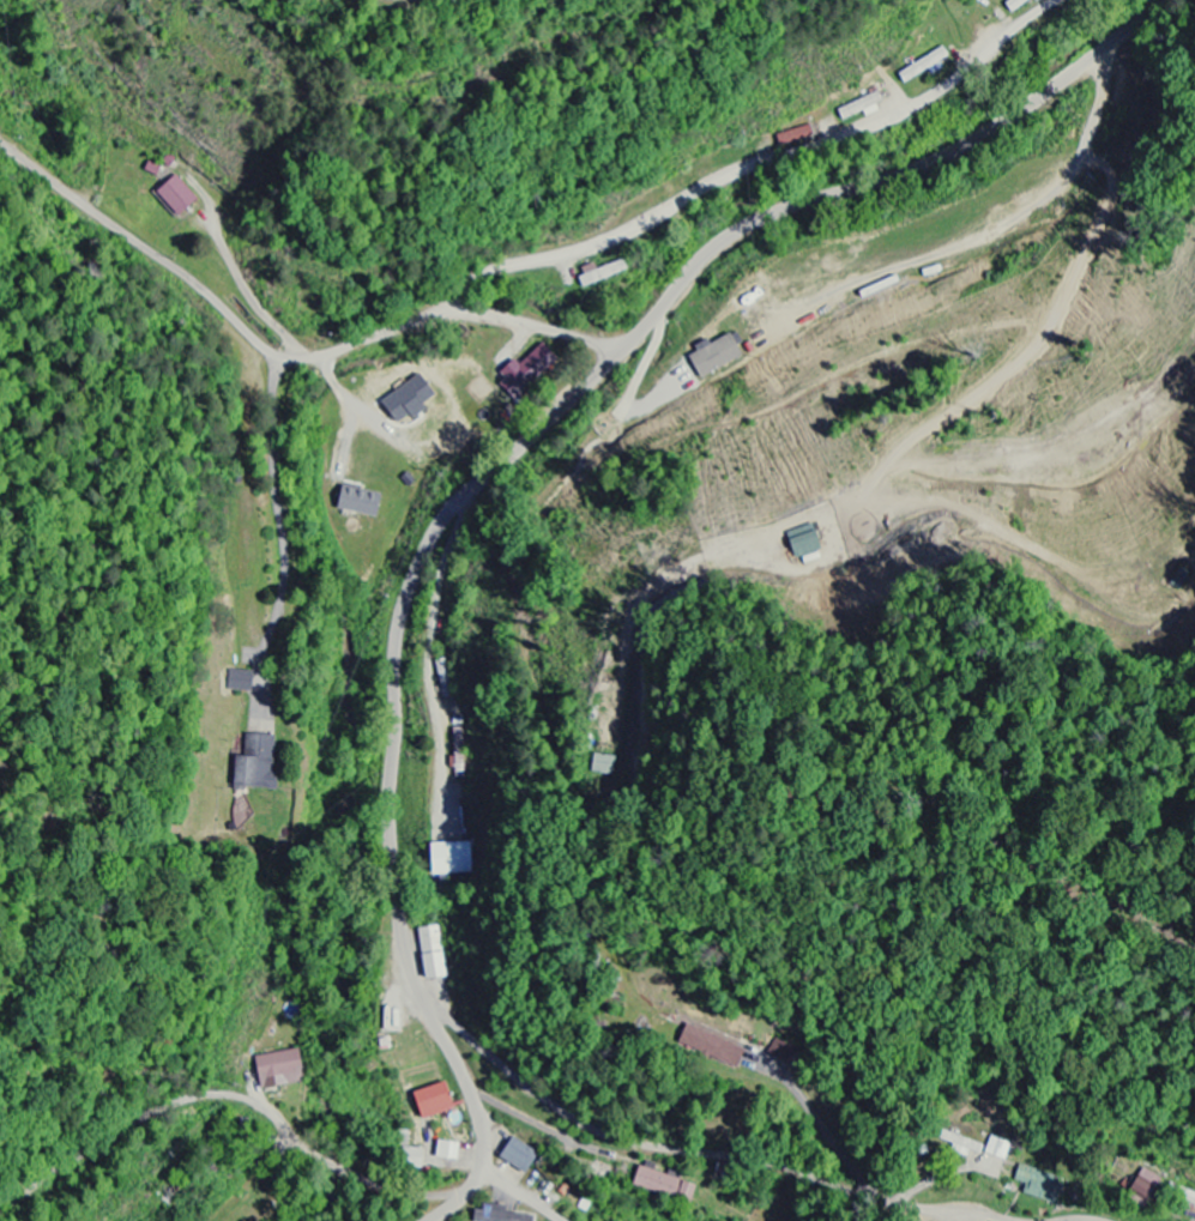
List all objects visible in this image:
building: (1019, 6)
building: (922, 67)
building: (861, 108)
road: (755, 167)
building: (175, 197)
building: (600, 273)
road: (286, 355)
building: (713, 356)
building: (526, 369)
building: (405, 401)
road: (497, 469)
building: (357, 502)
road: (276, 506)
building: (801, 543)
building: (448, 678)
building: (240, 682)
building: (458, 707)
building: (254, 766)
building: (609, 766)
building: (431, 954)
building: (710, 1047)
building: (780, 1053)
building: (277, 1071)
road: (227, 1096)
building: (430, 1102)
road: (521, 1120)
building: (961, 1146)
road: (696, 1150)
building: (998, 1150)
building: (445, 1153)
building: (518, 1157)
building: (414, 1160)
building: (1039, 1186)
building: (1143, 1186)
building: (663, 1187)
road: (523, 1192)
building: (1181, 1195)
building: (494, 1215)
road: (1080, 1220)

